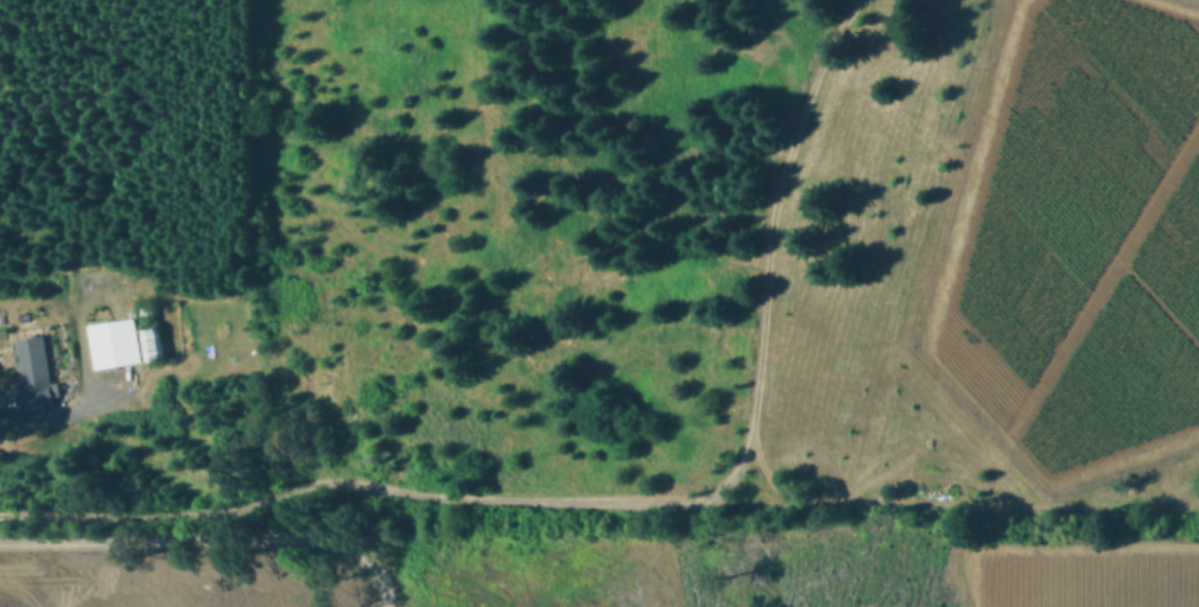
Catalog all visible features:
building: (119, 343)
building: (153, 344)
building: (38, 371)
road: (14, 424)
road: (332, 481)
road: (203, 541)

